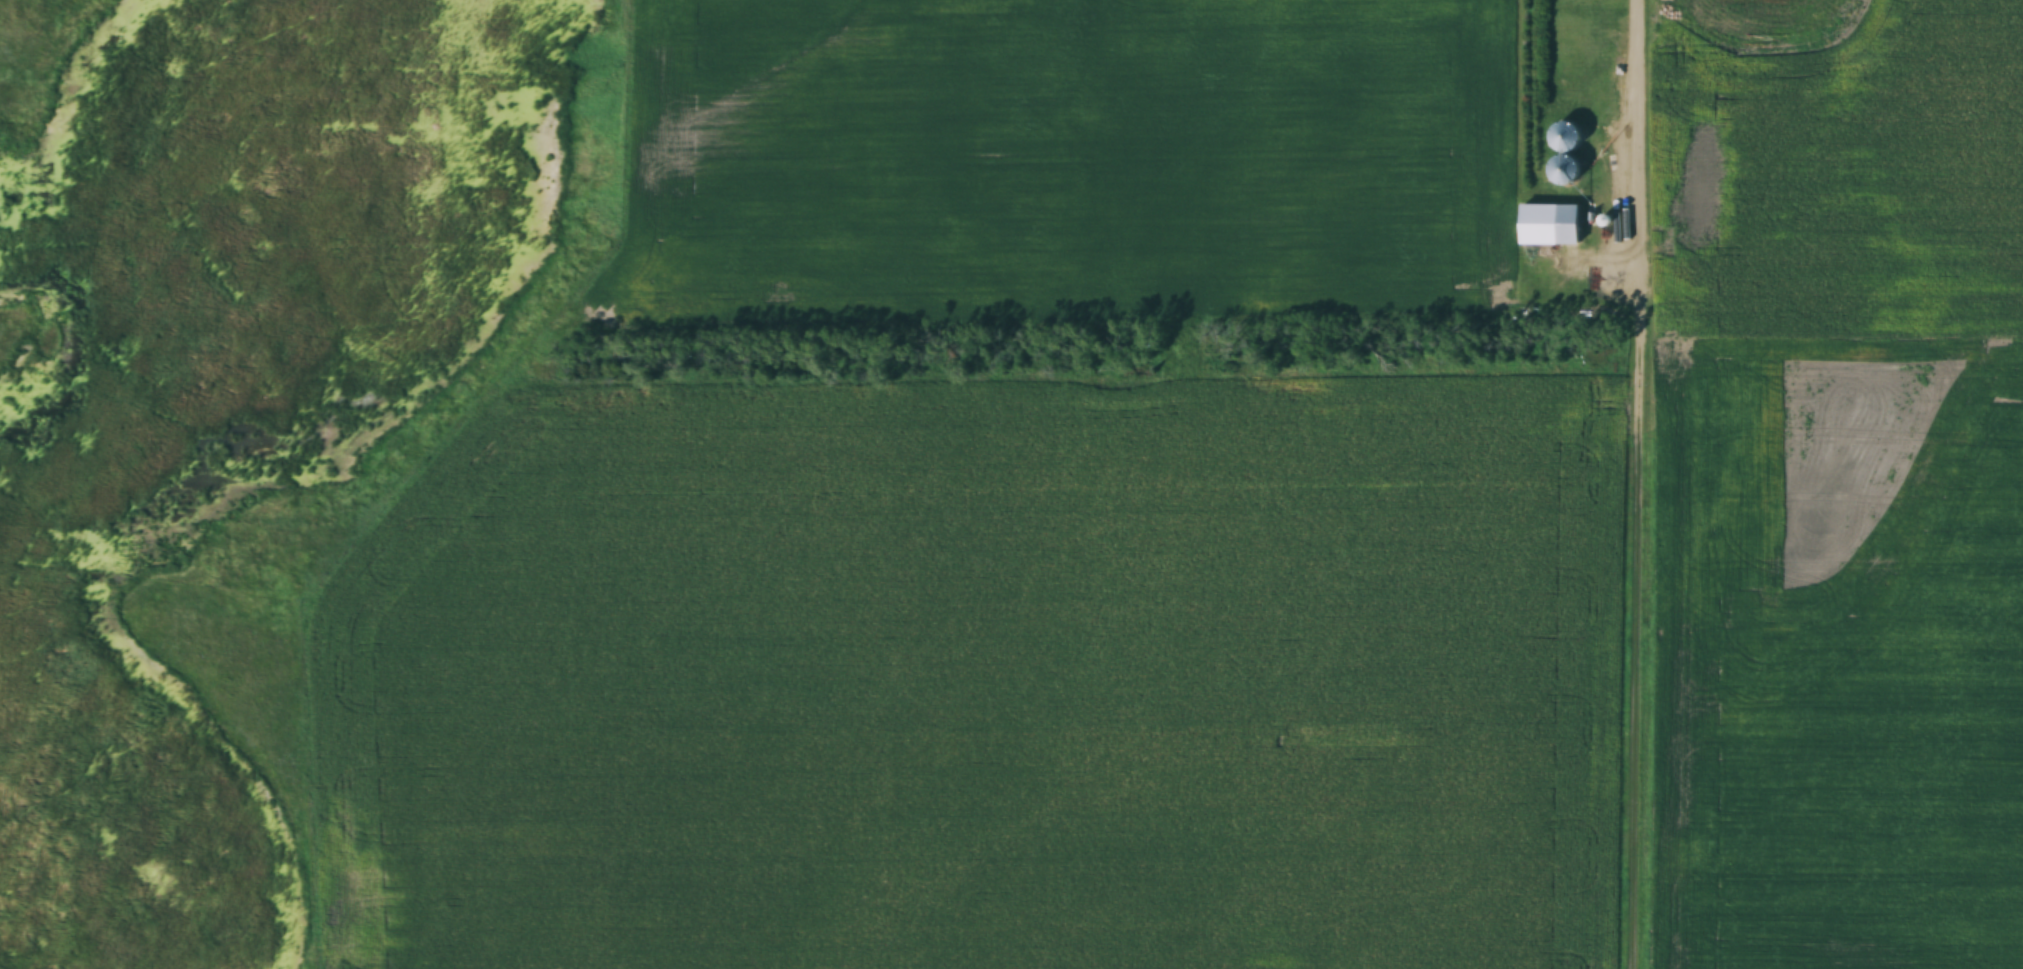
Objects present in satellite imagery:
building: (1564, 136)
building: (1561, 172)
building: (1552, 225)
road: (1635, 484)
crop: (1836, 660)

